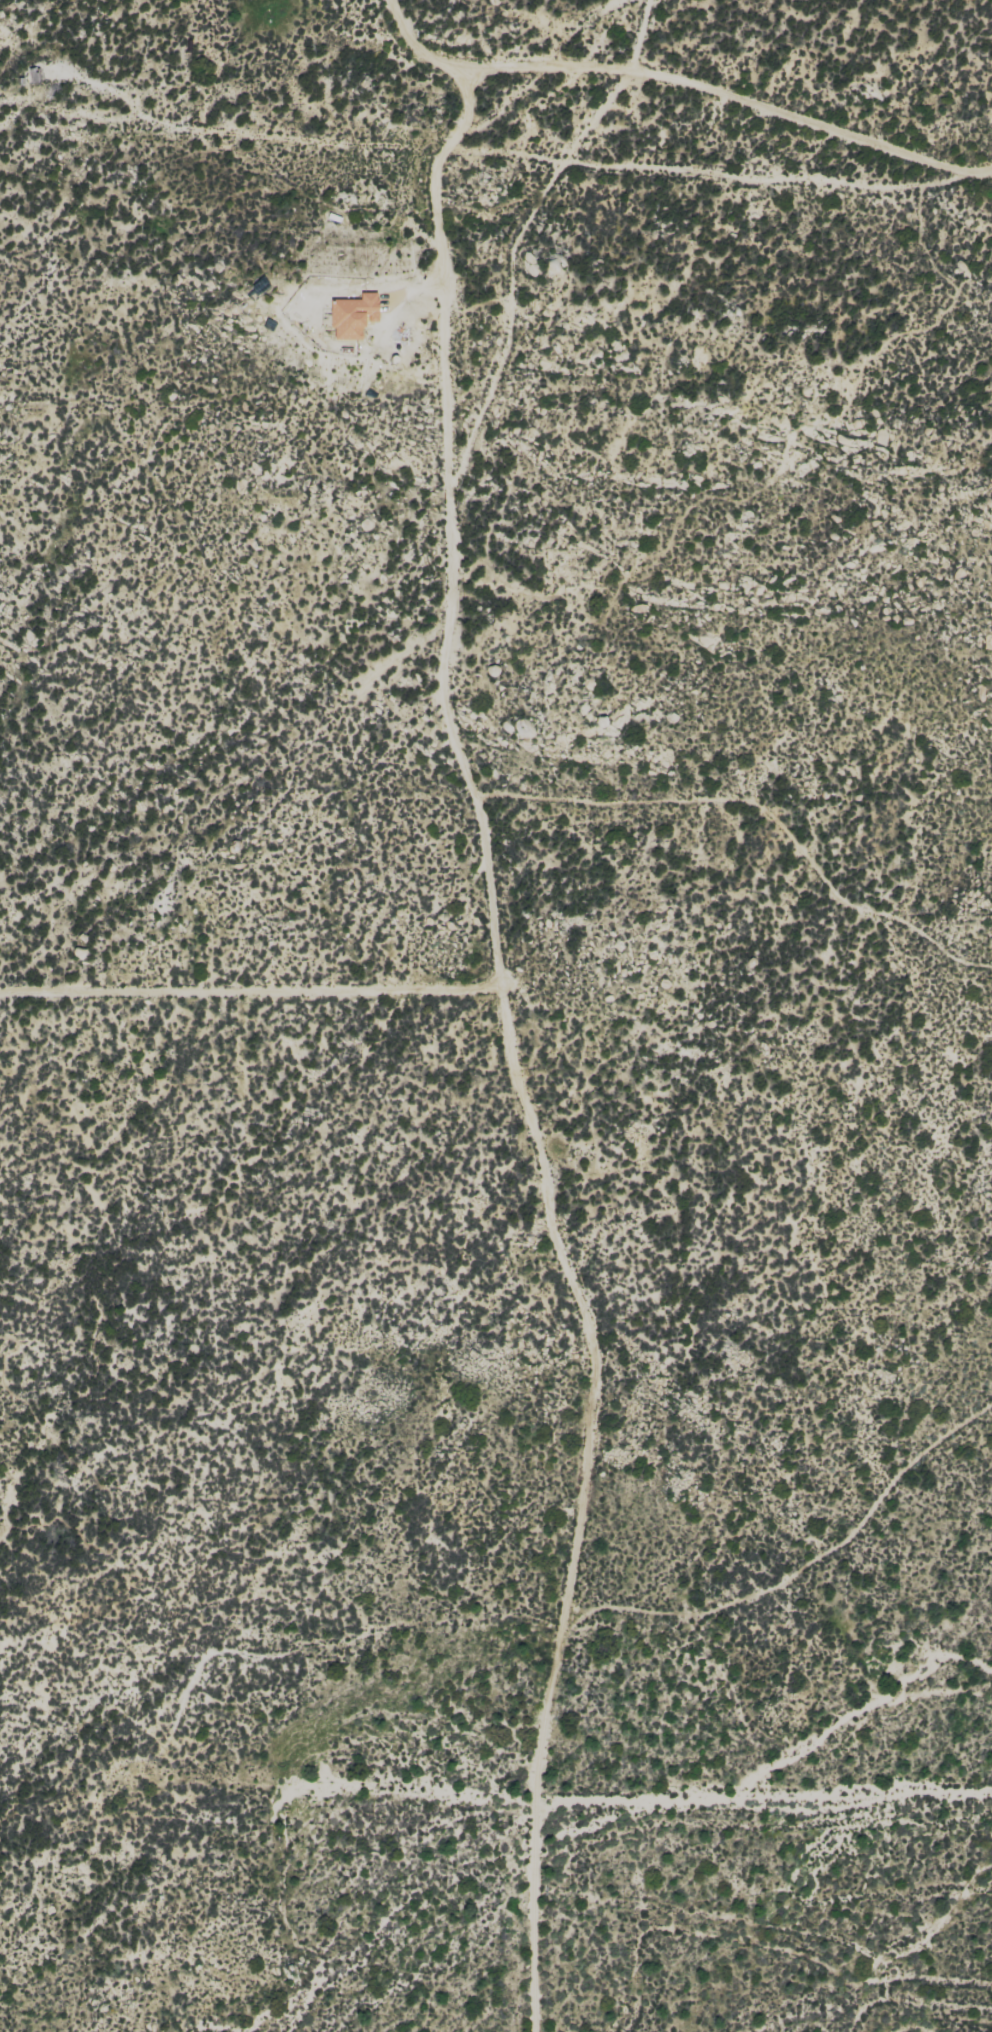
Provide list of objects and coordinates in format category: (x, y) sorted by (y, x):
road: (640, 34)
road: (681, 83)
building: (353, 314)
road: (444, 527)
road: (249, 987)

